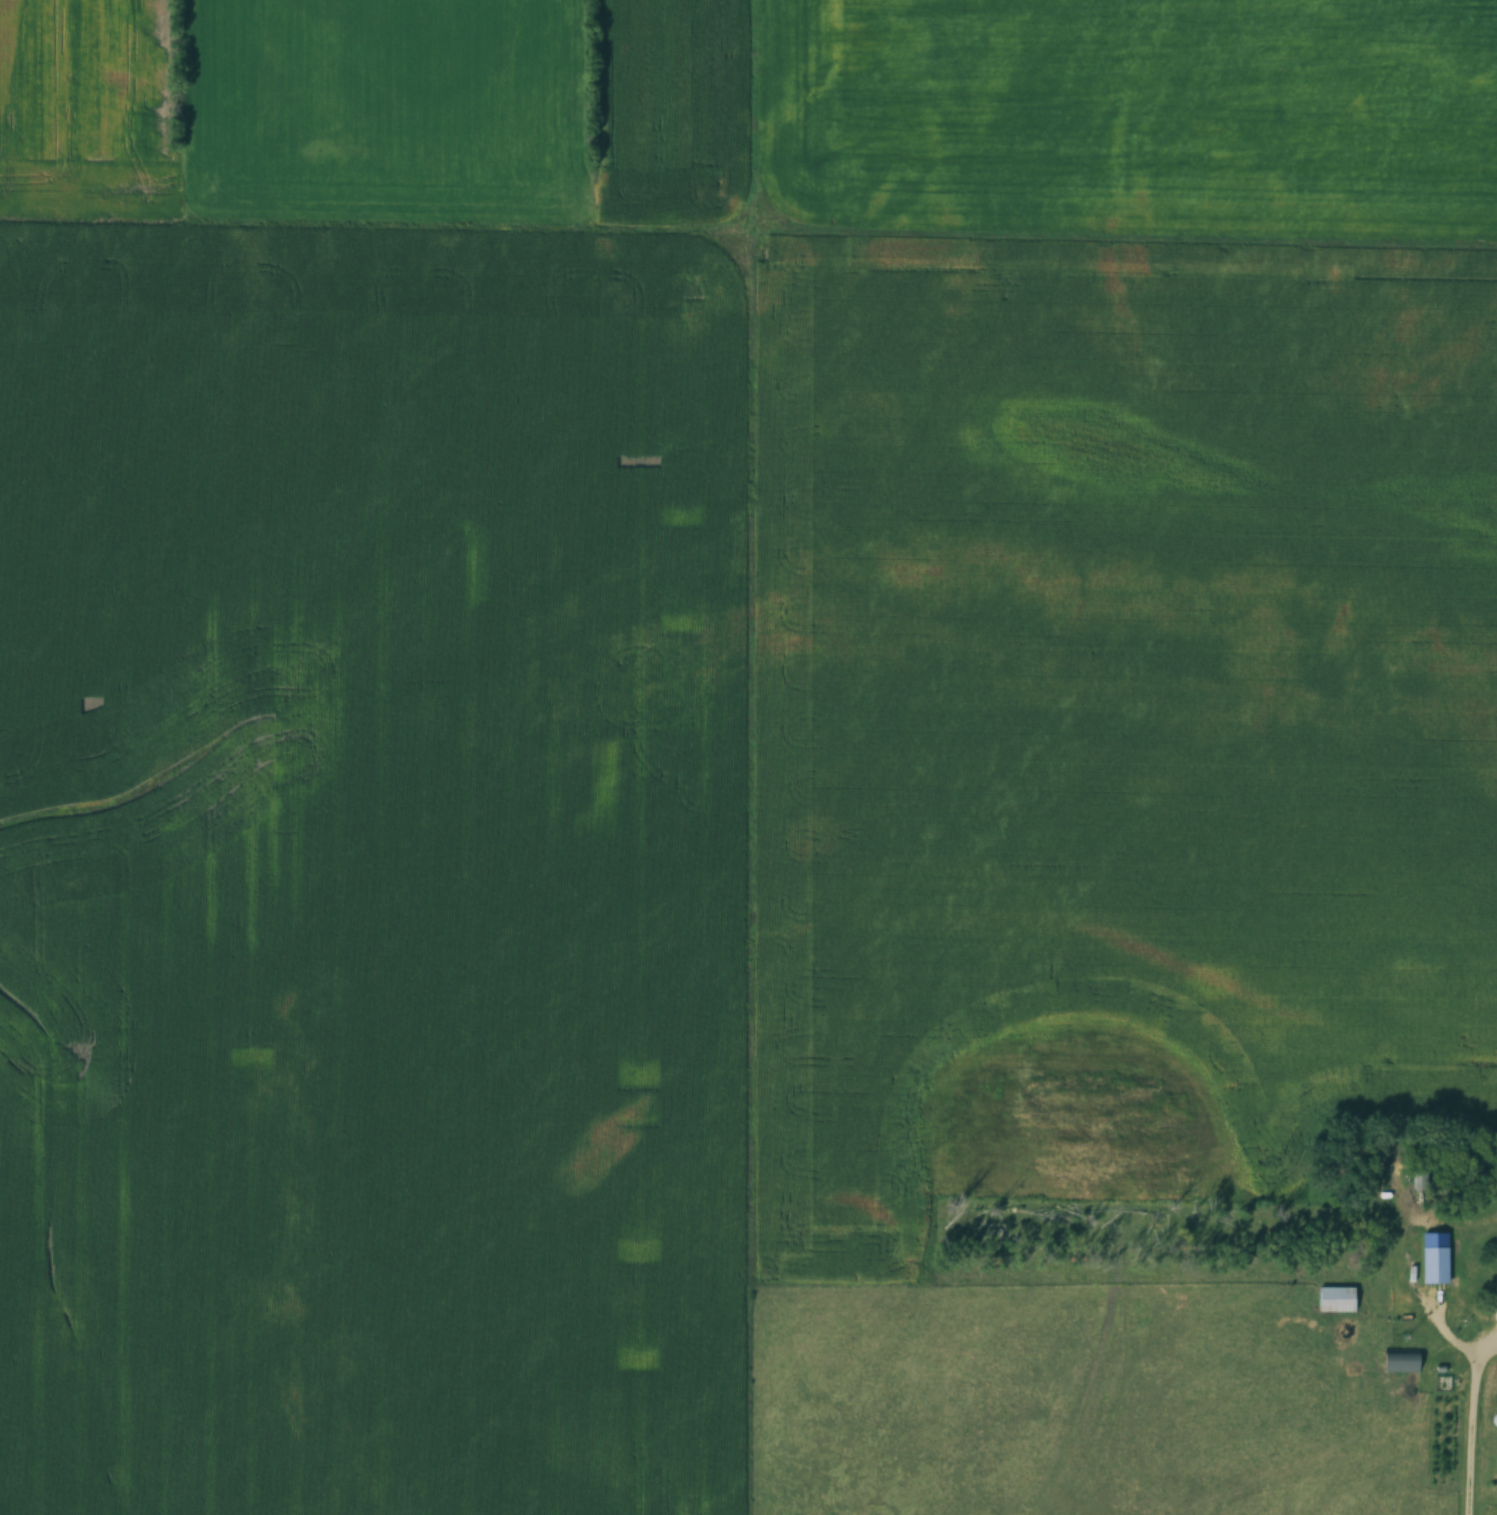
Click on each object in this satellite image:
building: (1434, 1264)
building: (1494, 1290)
building: (1335, 1298)
building: (1399, 1360)
road: (1461, 1402)
building: (1494, 1405)

